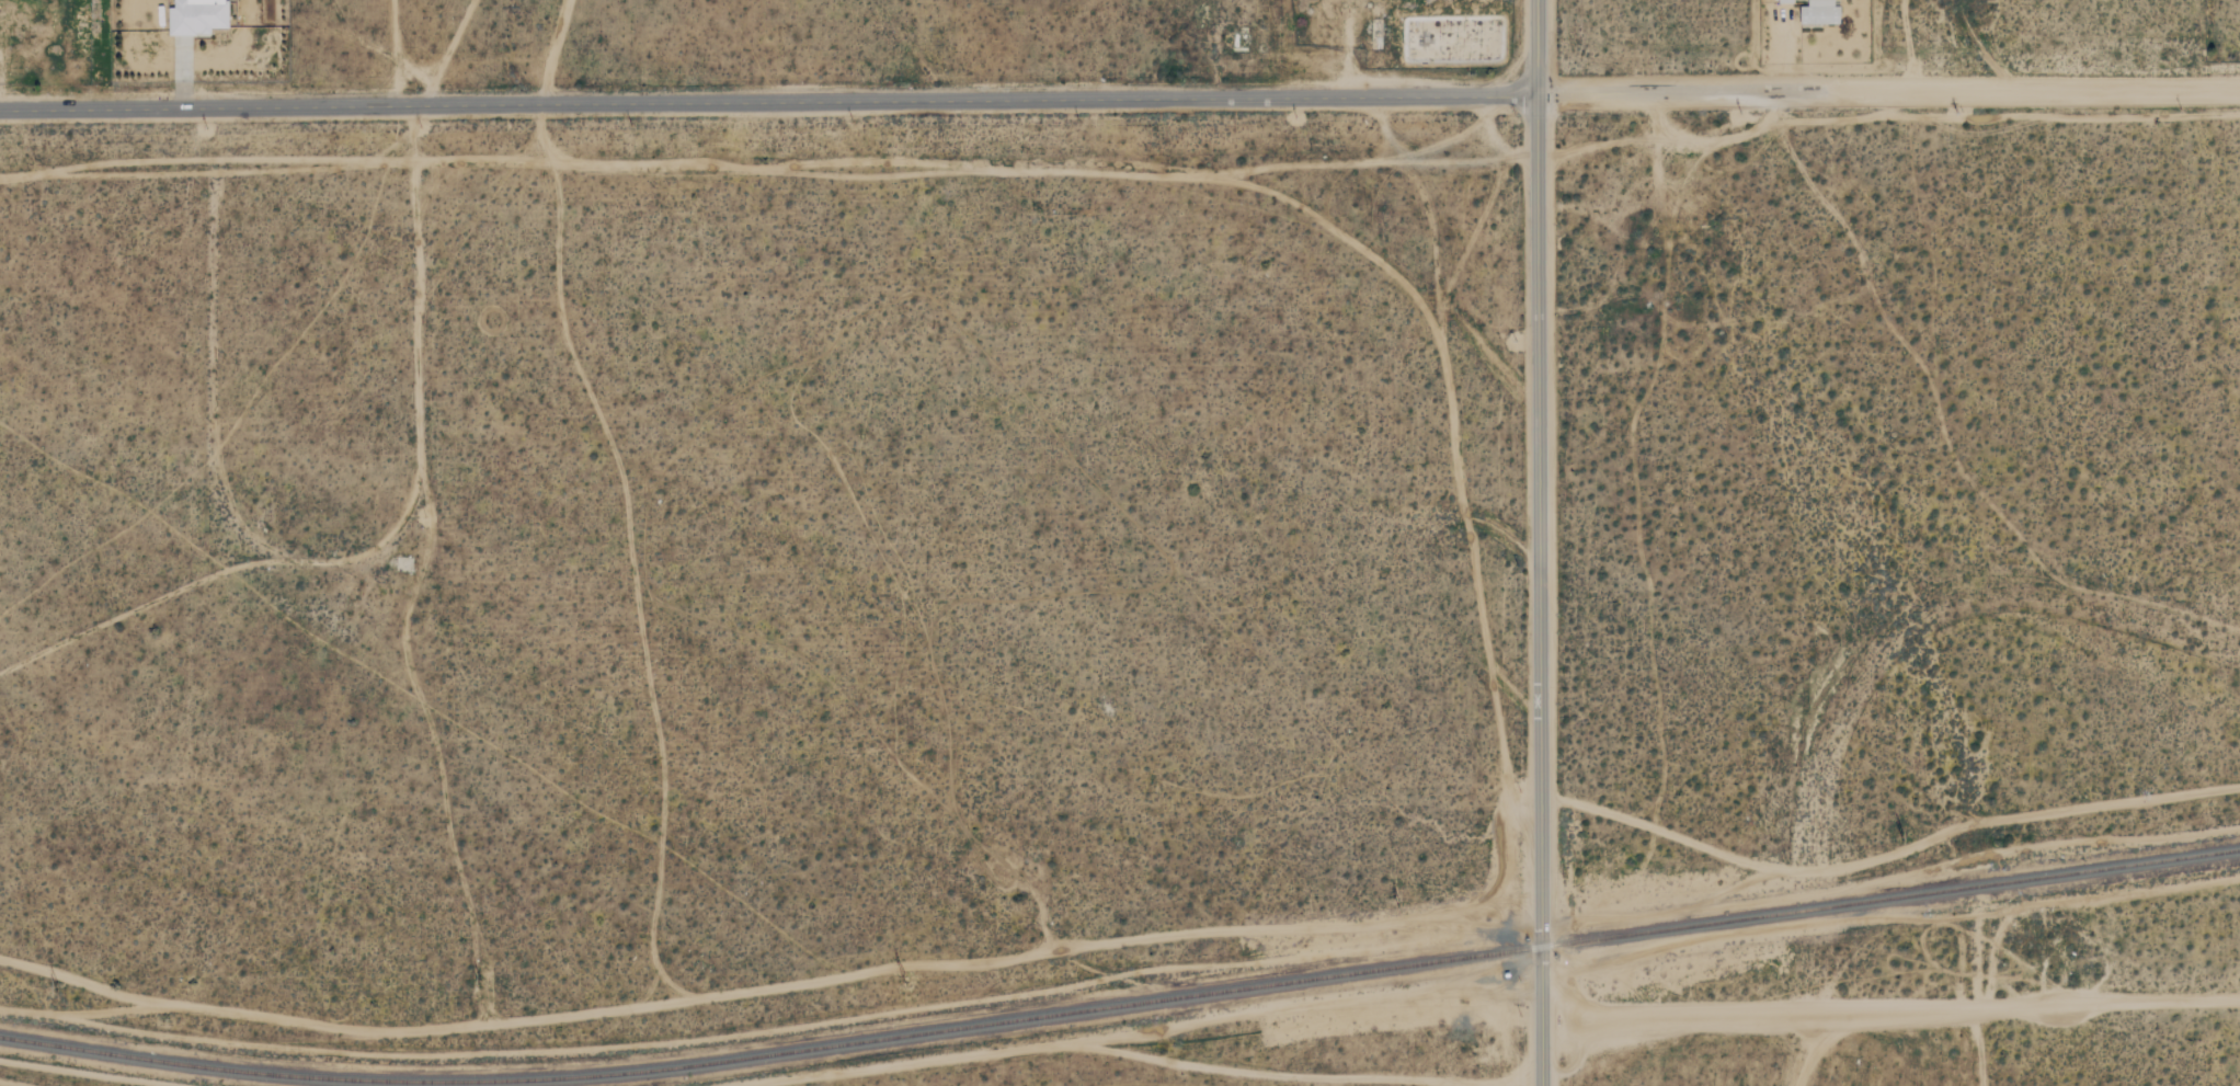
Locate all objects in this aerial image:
building: (1785, 1)
building: (1819, 13)
building: (196, 16)
road: (1536, 47)
road: (1786, 53)
road: (1887, 88)
road: (768, 102)
road: (1539, 590)
power tower: (1906, 836)
power tower: (1405, 904)
power tower: (899, 976)
power tower: (479, 980)
power tower: (52, 985)
road: (1890, 1005)
railway: (1121, 1009)

